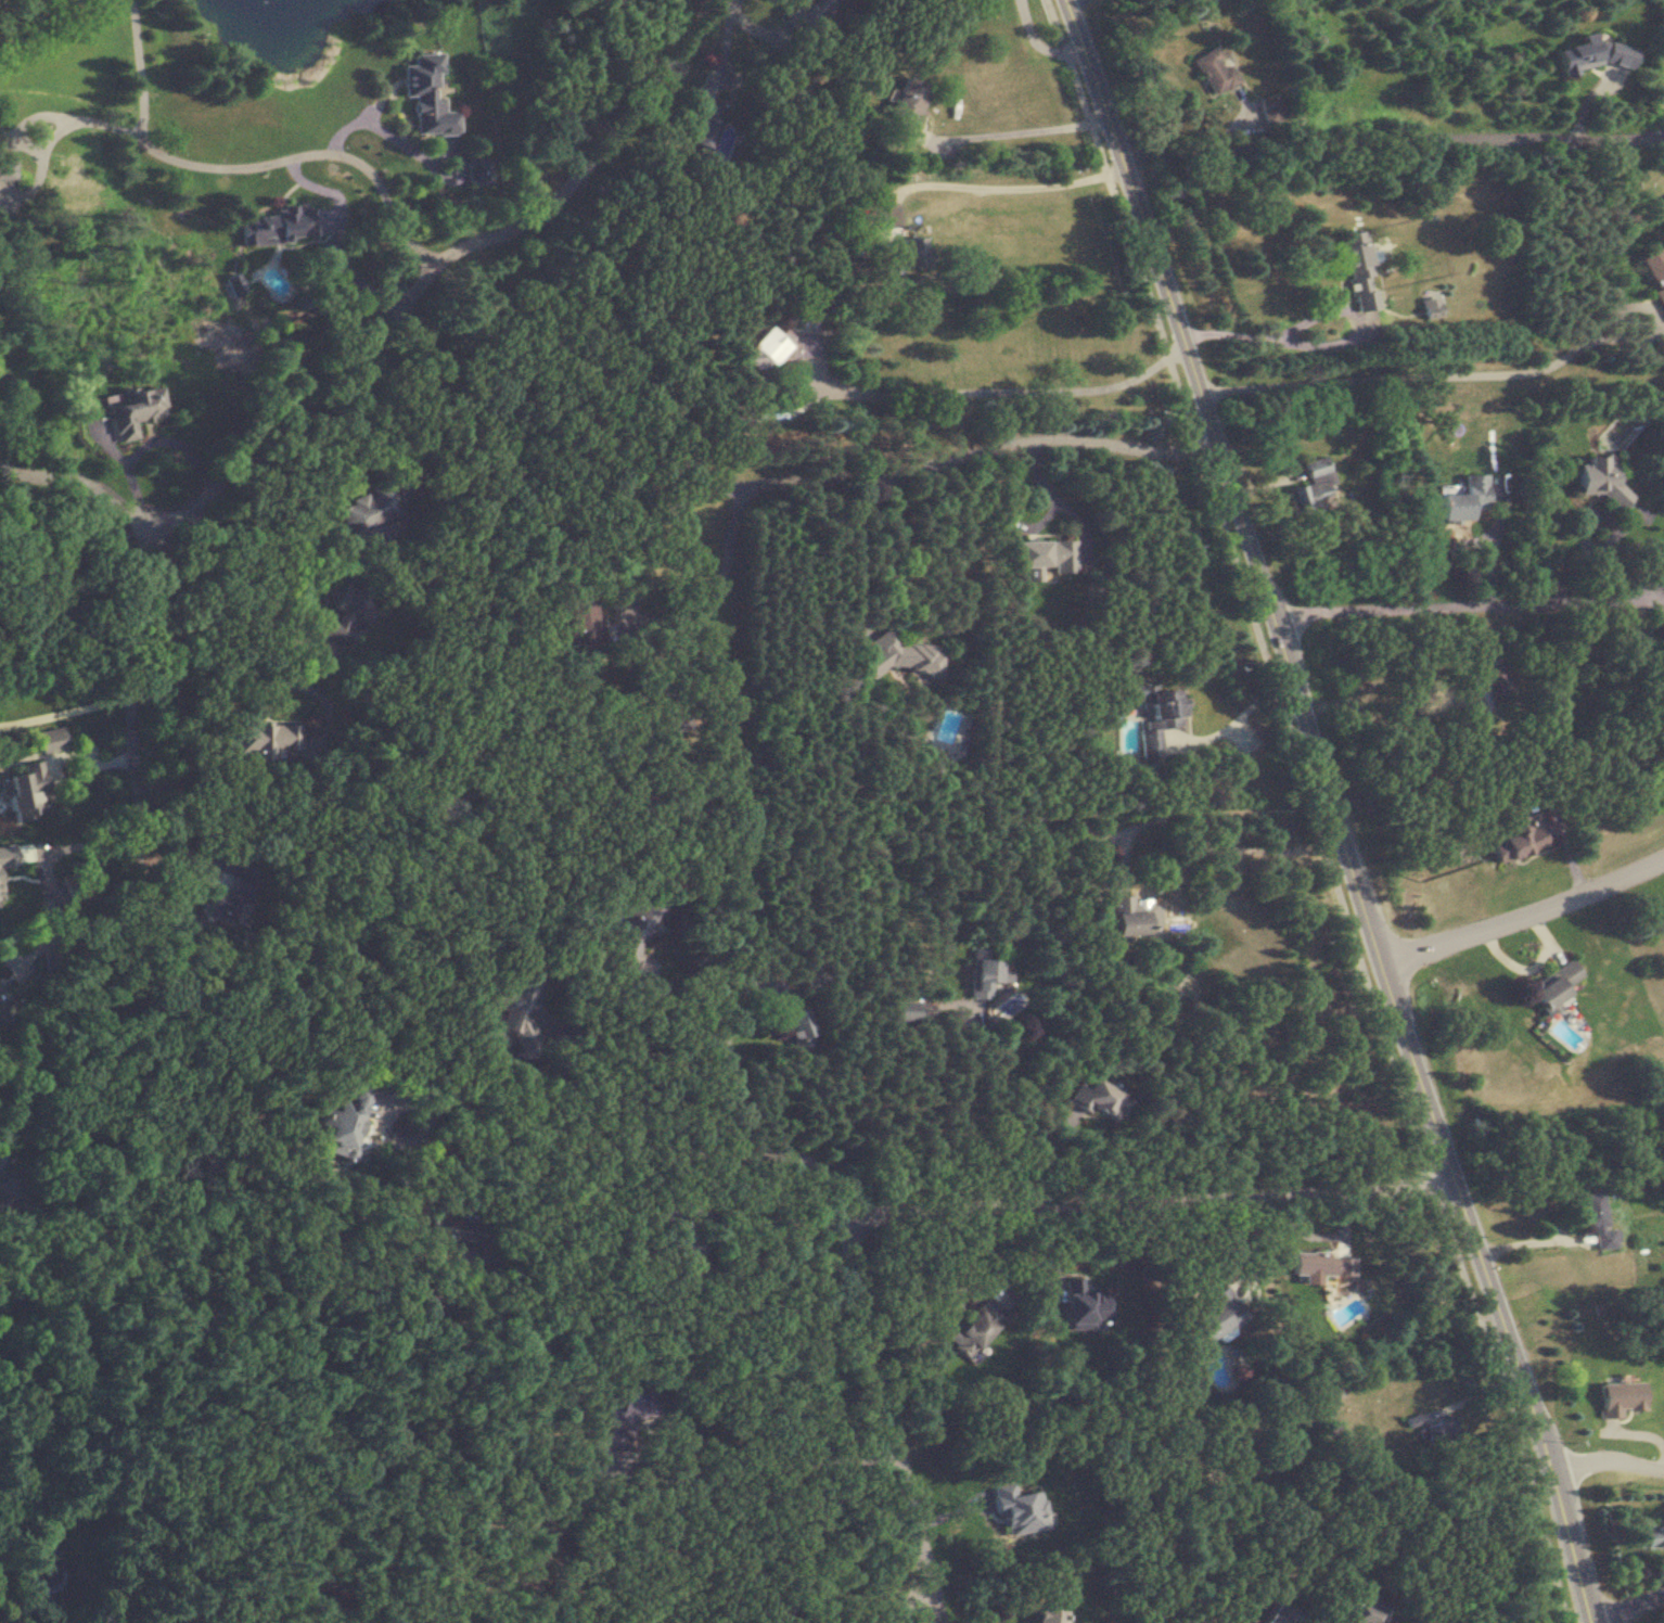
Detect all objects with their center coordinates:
building: (809, 14)
road: (1040, 43)
building: (1215, 69)
road: (140, 71)
building: (428, 94)
building: (908, 107)
road: (366, 120)
building: (706, 122)
road: (1034, 127)
road: (1393, 145)
road: (274, 161)
building: (8, 169)
road: (997, 182)
building: (285, 226)
building: (916, 252)
building: (1356, 264)
building: (1654, 271)
building: (1430, 308)
road: (1327, 311)
building: (780, 348)
road: (1423, 373)
road: (329, 387)
road: (1007, 389)
building: (132, 410)
road: (377, 425)
road: (142, 446)
road: (780, 478)
road: (82, 481)
building: (1314, 486)
building: (1464, 499)
building: (373, 515)
road: (1468, 541)
building: (1042, 557)
road: (236, 580)
road: (1469, 608)
building: (345, 612)
building: (583, 626)
building: (900, 655)
road: (226, 660)
road: (67, 711)
road: (1241, 713)
building: (1157, 717)
building: (667, 718)
building: (265, 739)
building: (51, 740)
building: (28, 792)
road: (1314, 809)
road: (1335, 810)
building: (1518, 841)
road: (1212, 844)
building: (230, 899)
road: (1525, 915)
building: (1128, 920)
building: (633, 936)
building: (52, 962)
building: (988, 975)
building: (1556, 986)
building: (3, 1009)
building: (517, 1009)
building: (794, 1017)
road: (726, 1041)
road: (566, 1069)
road: (957, 1086)
building: (1101, 1100)
building: (343, 1120)
road: (931, 1122)
road: (629, 1135)
road: (984, 1141)
building: (1598, 1219)
building: (457, 1232)
road: (1537, 1239)
building: (686, 1251)
building: (1322, 1264)
road: (1201, 1271)
road: (779, 1273)
road: (524, 1274)
road: (971, 1282)
road: (66, 1285)
building: (1085, 1306)
building: (1211, 1319)
building: (976, 1326)
building: (1337, 1391)
building: (631, 1419)
road: (888, 1420)
building: (1434, 1432)
road: (1611, 1458)
road: (764, 1467)
building: (1019, 1509)
road: (394, 1530)
building: (1649, 1535)
building: (533, 1551)
building: (47, 1567)
road: (906, 1596)
road: (11, 1603)
road: (1631, 1603)
building: (1369, 1613)
building: (1047, 1615)

